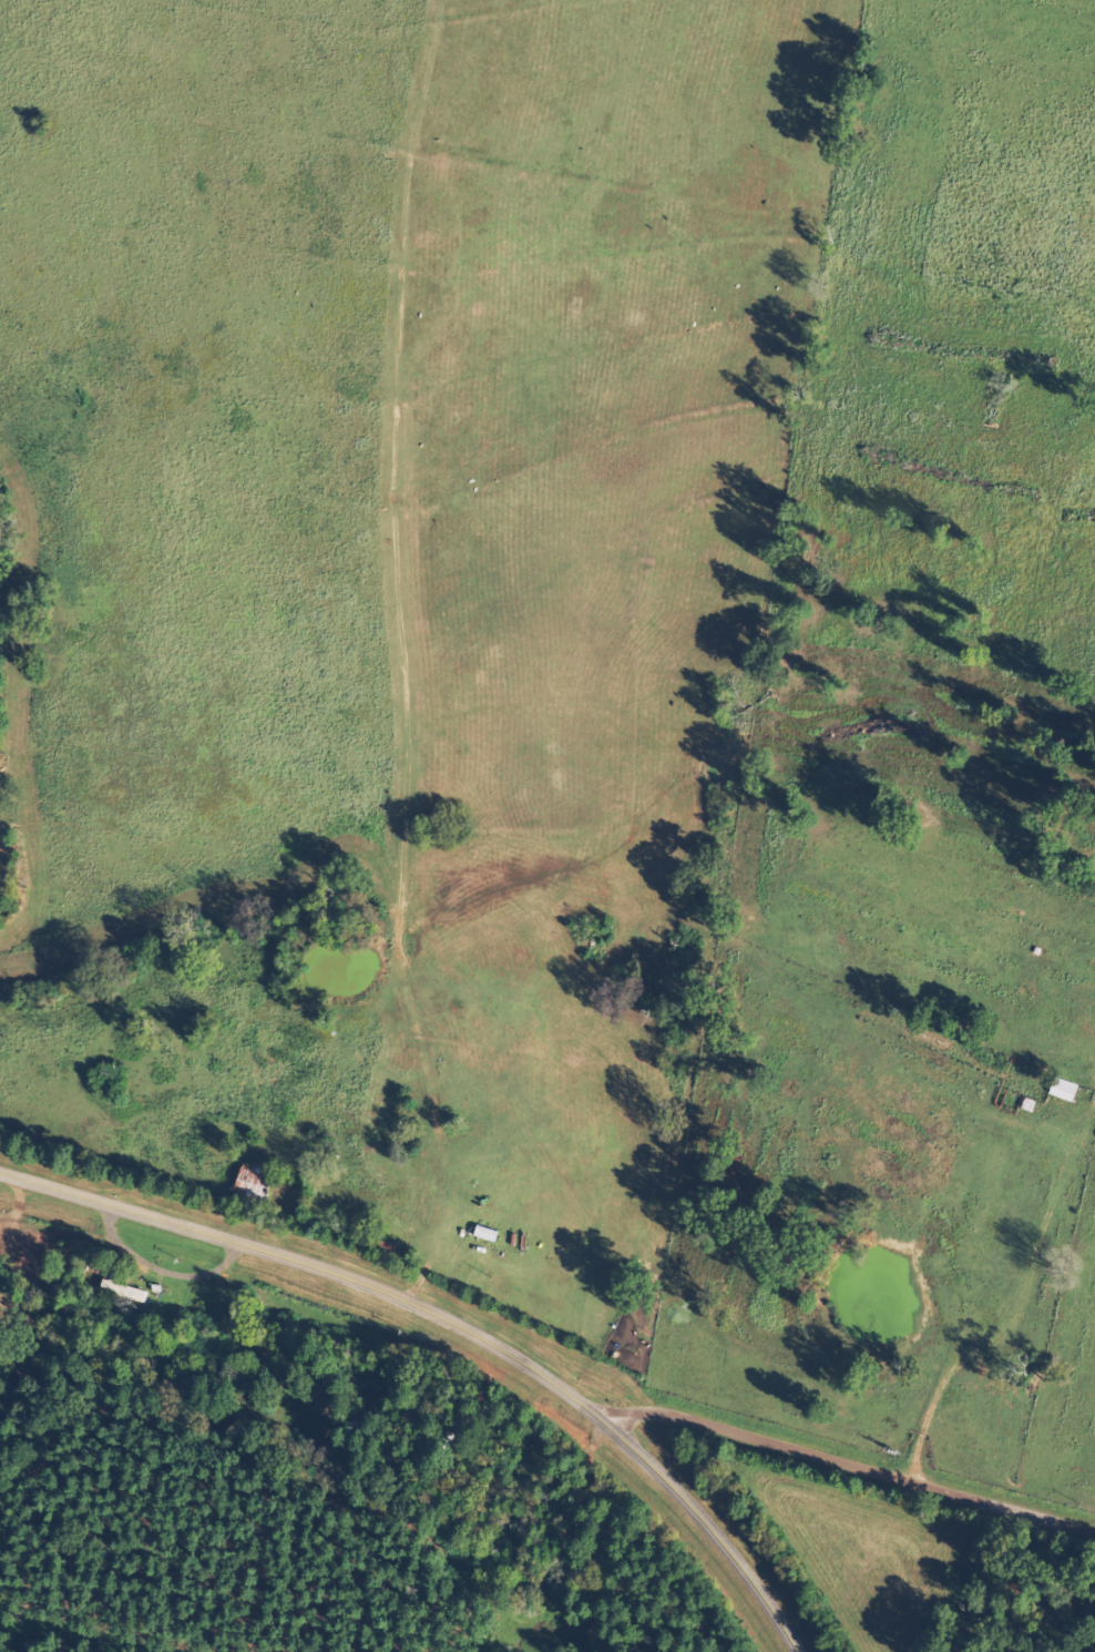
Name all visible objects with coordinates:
road: (454, 1324)
road: (854, 1498)

